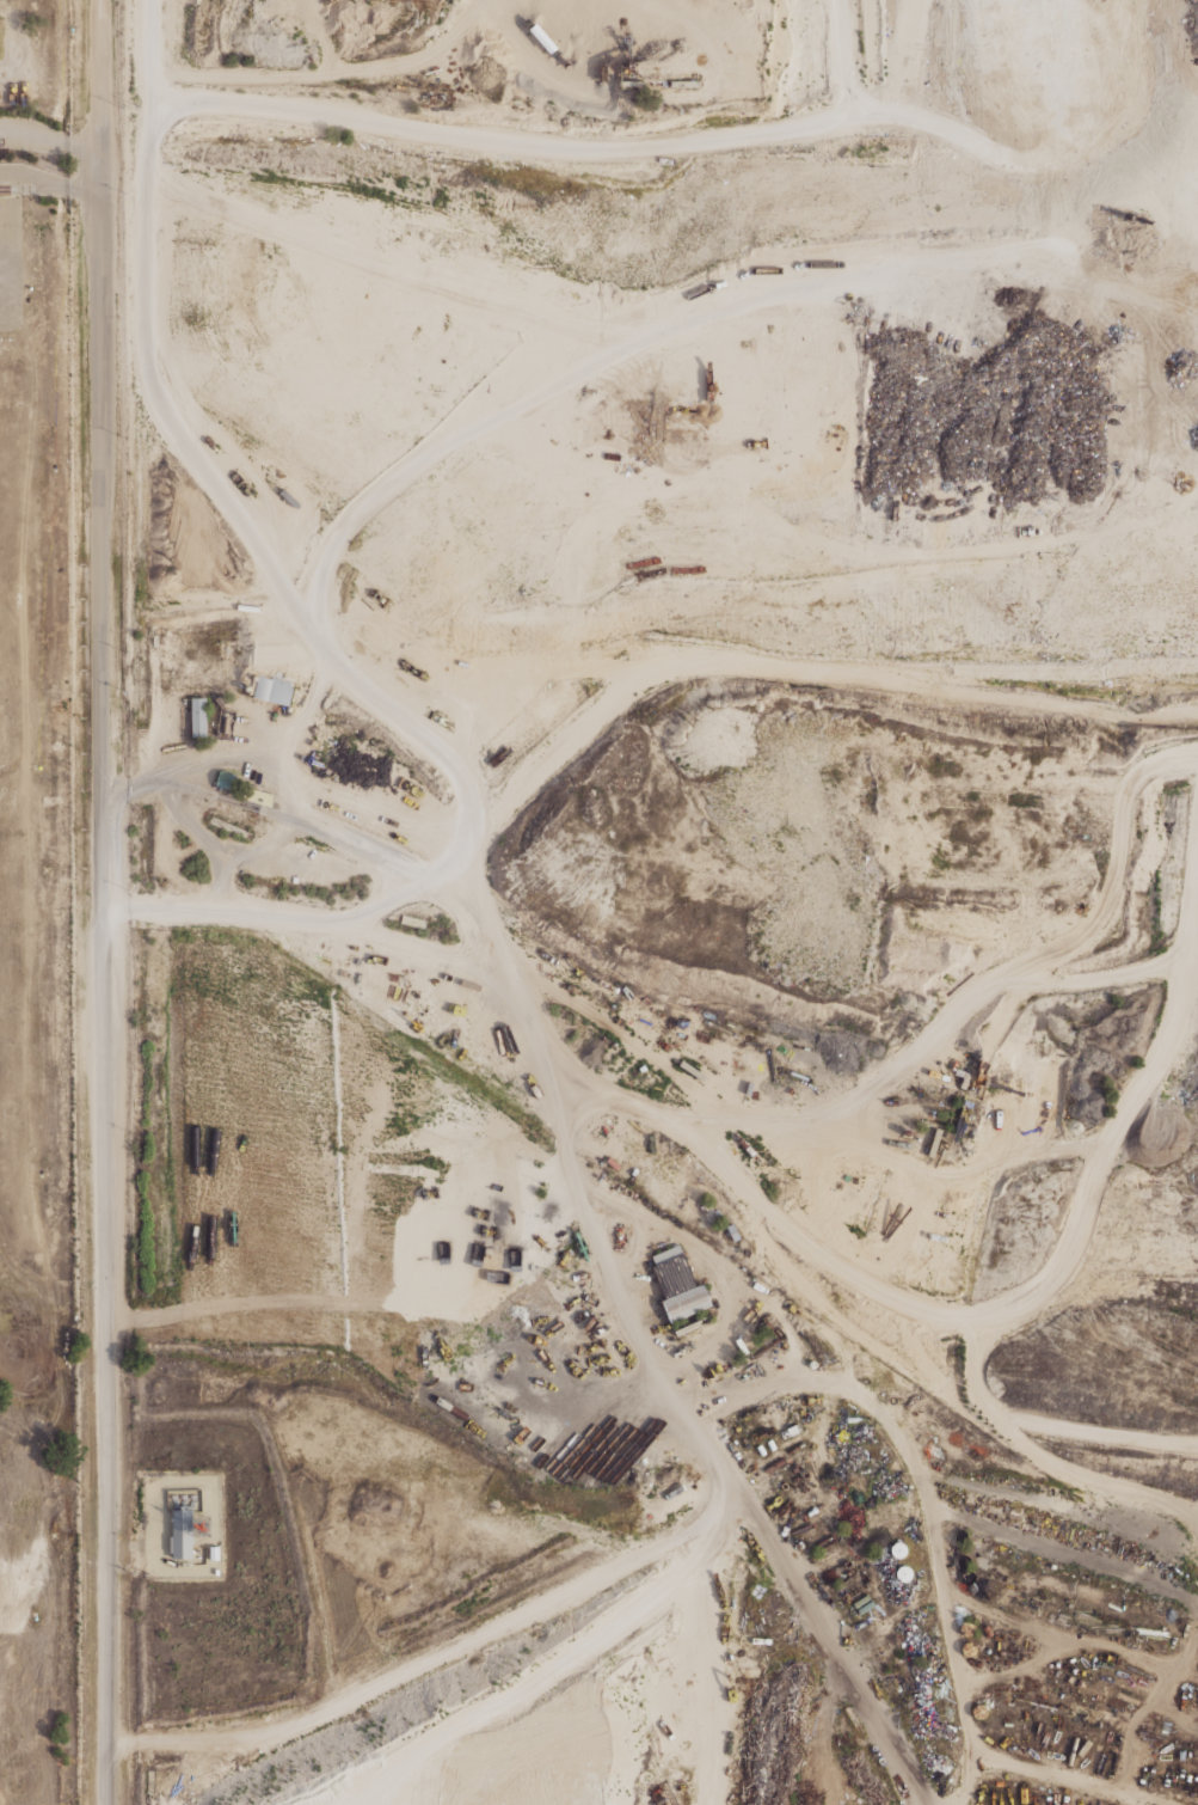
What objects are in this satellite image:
road: (2, 72)
road: (139, 86)
road: (442, 147)
road: (84, 166)
road: (92, 170)
road: (244, 524)
road: (139, 569)
building: (247, 608)
building: (283, 643)
building: (443, 656)
building: (272, 689)
building: (222, 699)
road: (305, 702)
building: (199, 716)
road: (583, 720)
building: (226, 781)
building: (259, 796)
building: (228, 827)
road: (205, 837)
road: (263, 843)
road: (1117, 874)
road: (104, 901)
road: (370, 908)
road: (480, 919)
landfill: (39, 920)
building: (414, 922)
road: (1159, 1061)
road: (666, 1069)
building: (959, 1071)
building: (965, 1079)
building: (989, 1082)
building: (969, 1103)
road: (692, 1113)
building: (911, 1132)
building: (935, 1142)
building: (615, 1161)
building: (662, 1191)
road: (589, 1224)
building: (731, 1231)
road: (812, 1247)
building: (672, 1269)
building: (689, 1302)
building: (741, 1345)
building: (813, 1363)
road: (973, 1366)
road: (1003, 1424)
building: (788, 1431)
road: (926, 1500)
building: (811, 1510)
building: (183, 1534)
building: (897, 1549)
road: (1057, 1549)
building: (215, 1553)
building: (217, 1571)
building: (903, 1573)
building: (858, 1601)
road: (539, 1604)
building: (864, 1607)
building: (33, 1617)
road: (714, 1632)
road: (1068, 1633)
road: (822, 1634)
road: (573, 1656)
road: (1019, 1666)
road: (1151, 1697)
road: (1174, 1712)
road: (239, 1731)
road: (244, 1756)
road: (1063, 1775)

